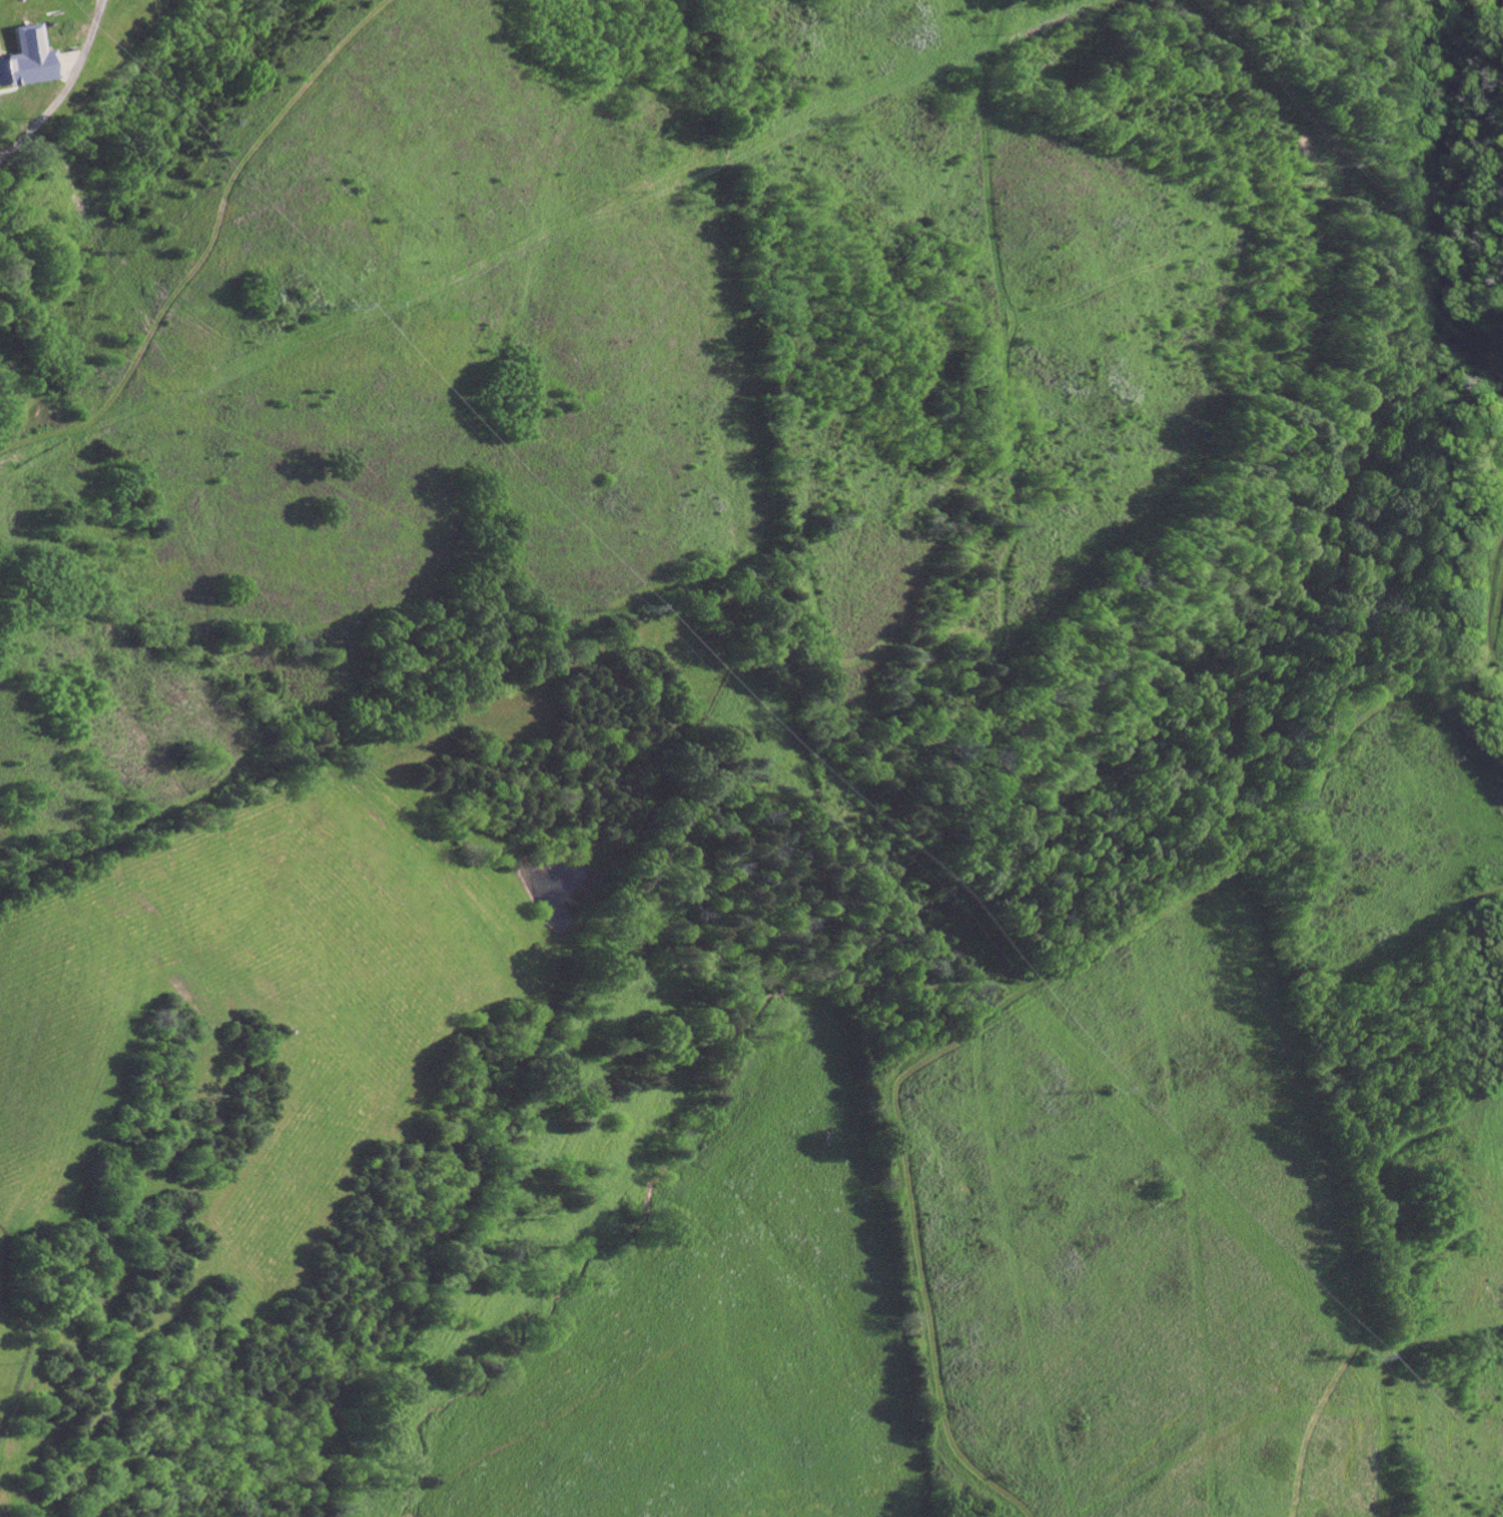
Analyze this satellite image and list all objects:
road: (1013, 1)
building: (25, 62)
road: (65, 86)
road: (201, 241)
power tower: (347, 306)
road: (1491, 603)
power tower: (641, 606)
road: (914, 677)
power tower: (1107, 1089)
road: (1384, 1263)
power tower: (1365, 1356)

